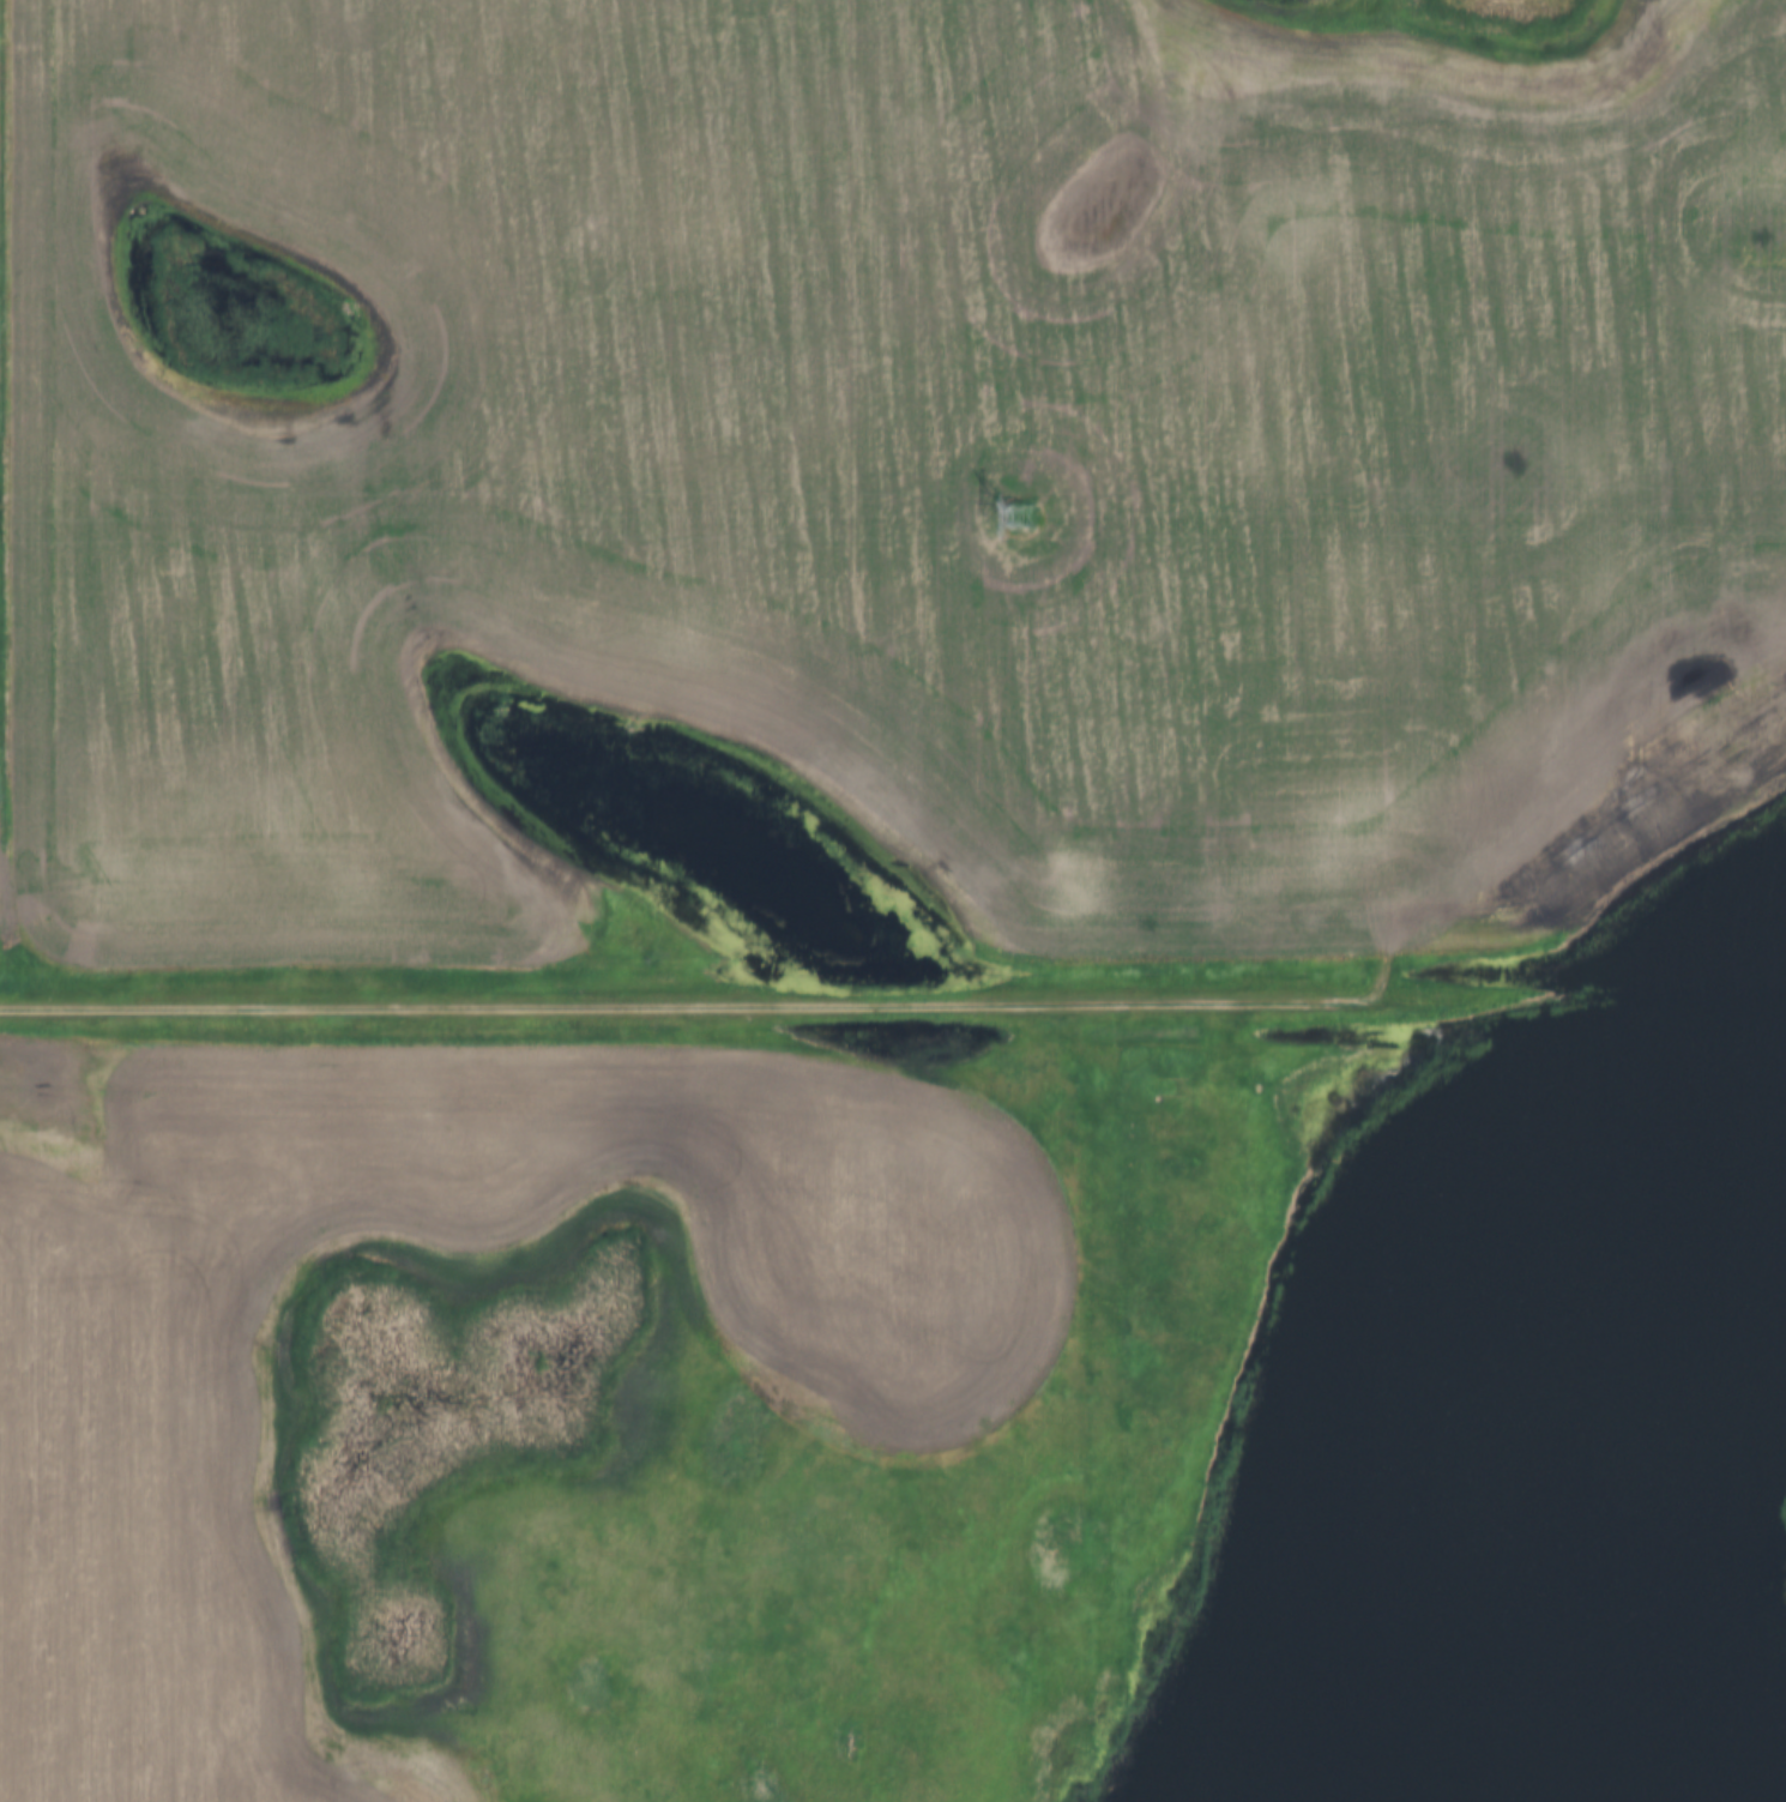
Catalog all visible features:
power tower: (1024, 513)
road: (892, 1008)

